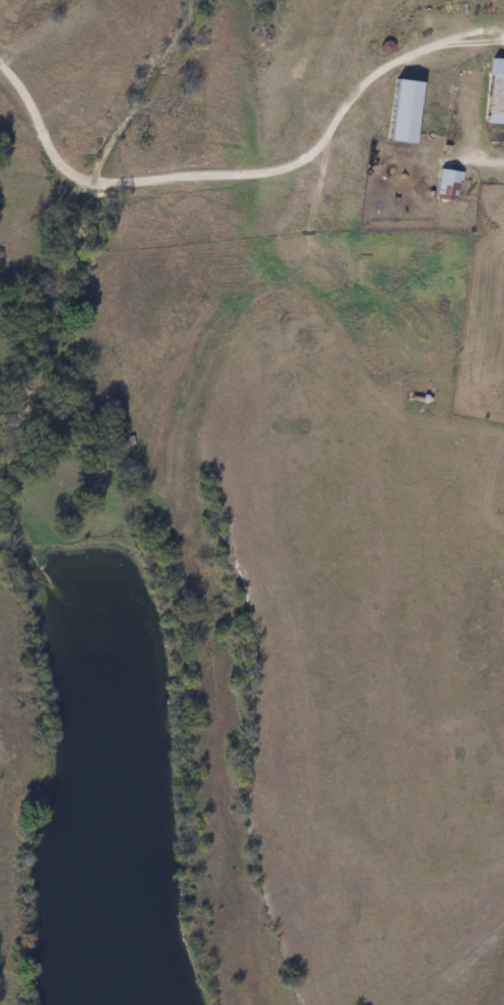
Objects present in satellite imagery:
building: (494, 92)
building: (399, 111)
road: (37, 129)
road: (318, 144)
road: (93, 185)
building: (445, 185)

